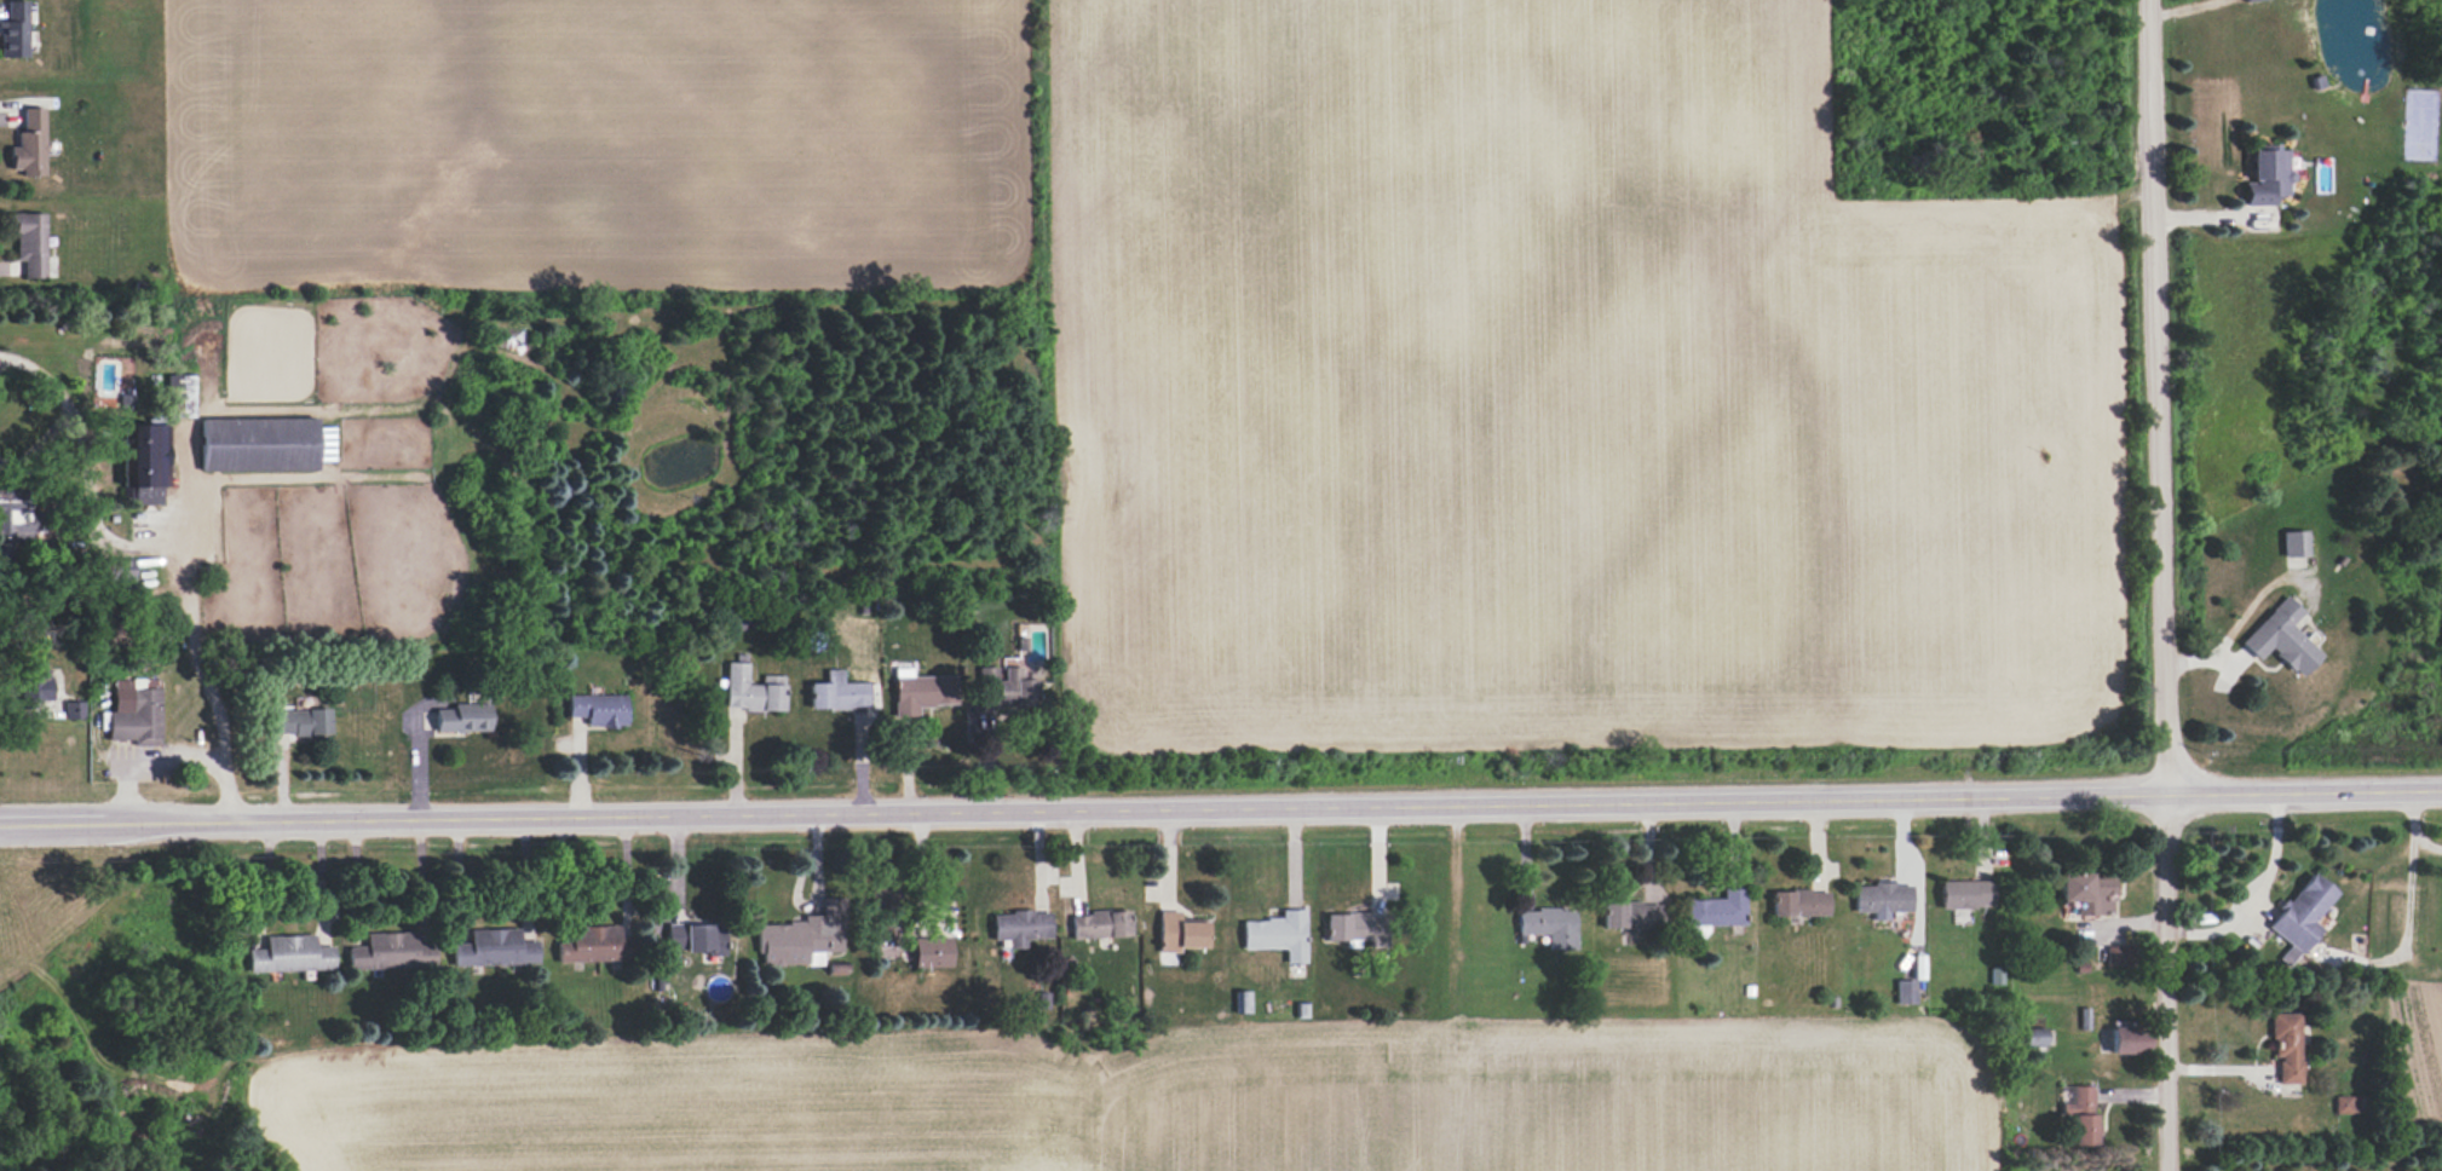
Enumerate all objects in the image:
building: (15, 30)
building: (29, 144)
building: (2264, 175)
building: (30, 243)
crop: (1319, 328)
building: (182, 396)
road: (73, 438)
building: (258, 444)
building: (324, 444)
building: (145, 461)
building: (13, 520)
building: (2296, 543)
road: (2160, 584)
building: (2281, 638)
building: (39, 685)
building: (751, 690)
building: (836, 693)
building: (922, 693)
building: (997, 694)
building: (598, 709)
building: (74, 710)
building: (134, 713)
building: (462, 717)
building: (300, 722)
road: (173, 761)
road: (1220, 807)
road: (2412, 827)
road: (2252, 890)
building: (2085, 893)
building: (1965, 894)
building: (1882, 899)
building: (1798, 902)
building: (1716, 910)
building: (1628, 915)
building: (2298, 917)
building: (1100, 924)
building: (1020, 927)
building: (1354, 927)
building: (1548, 927)
building: (1179, 933)
building: (1277, 934)
building: (695, 938)
building: (801, 938)
building: (881, 938)
road: (2403, 940)
building: (593, 945)
building: (494, 948)
building: (391, 952)
building: (931, 952)
building: (289, 954)
building: (1905, 992)
building: (2033, 1037)
building: (2126, 1039)
building: (2285, 1045)
building: (2344, 1104)
building: (2079, 1115)

